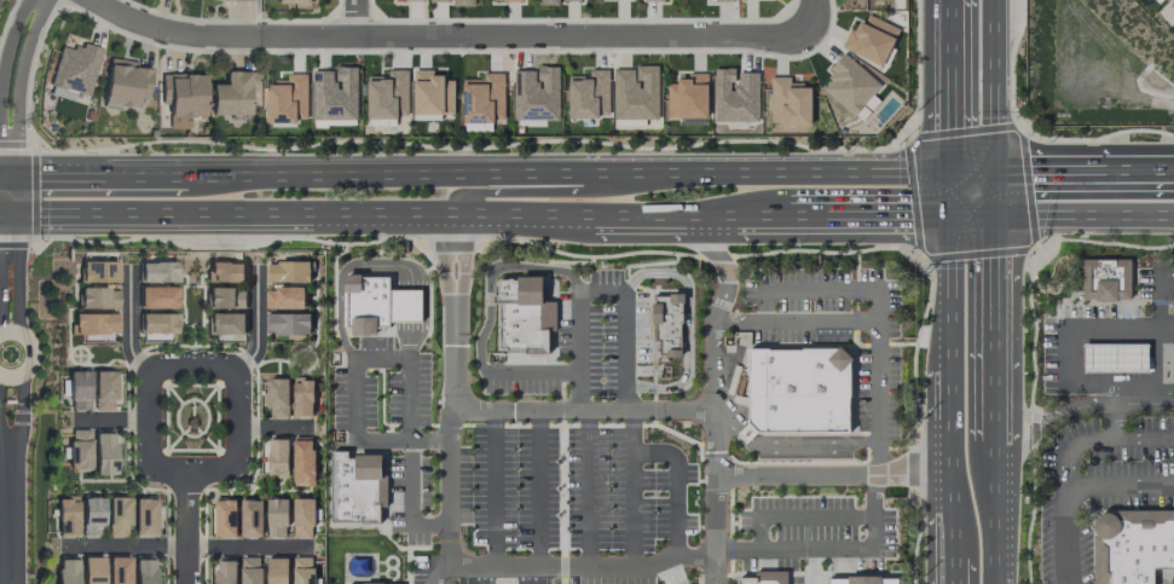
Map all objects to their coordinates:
building: (406, 0)
building: (513, 0)
building: (653, 0)
building: (724, 0)
building: (294, 1)
building: (452, 1)
building: (554, 1)
building: (1172, 2)
road: (358, 18)
building: (1173, 18)
road: (810, 19)
road: (446, 37)
building: (871, 39)
road: (8, 41)
road: (994, 48)
building: (73, 71)
building: (125, 82)
road: (948, 85)
building: (849, 89)
building: (335, 93)
building: (433, 93)
building: (537, 93)
building: (636, 93)
building: (181, 94)
building: (231, 94)
building: (388, 94)
building: (589, 94)
building: (736, 96)
building: (688, 97)
building: (484, 98)
building: (288, 99)
road: (16, 105)
building: (478, 127)
road: (994, 133)
road: (572, 169)
road: (1082, 169)
road: (972, 170)
road: (104, 177)
road: (7, 179)
traffic signals: (16, 179)
road: (524, 187)
road: (952, 195)
road: (993, 195)
road: (8, 214)
traffic signals: (17, 215)
road: (98, 215)
road: (318, 216)
road: (493, 218)
road: (1083, 218)
road: (629, 220)
road: (869, 220)
traffic signals: (952, 220)
road: (972, 220)
traffic signals: (994, 220)
road: (758, 221)
road: (445, 264)
road: (463, 264)
road: (724, 265)
building: (97, 271)
building: (289, 271)
building: (156, 272)
building: (224, 272)
road: (17, 274)
road: (490, 274)
building: (1106, 279)
road: (820, 288)
road: (600, 291)
road: (953, 295)
road: (1161, 296)
building: (97, 297)
building: (156, 297)
building: (225, 297)
building: (284, 297)
building: (378, 303)
building: (521, 316)
road: (131, 318)
road: (258, 322)
road: (872, 322)
building: (92, 323)
building: (156, 323)
building: (225, 323)
building: (288, 323)
building: (667, 325)
road: (688, 325)
road: (995, 333)
road: (1065, 336)
road: (1168, 351)
fountain: (12, 355)
road: (30, 355)
building: (1115, 358)
gas station: (1115, 358)
road: (713, 364)
road: (532, 375)
road: (352, 377)
road: (1145, 382)
road: (21, 388)
building: (77, 389)
building: (103, 389)
building: (799, 391)
building: (278, 397)
building: (302, 397)
road: (1145, 403)
road: (537, 412)
road: (1052, 415)
road: (108, 416)
road: (954, 420)
road: (19, 424)
road: (274, 426)
road: (4, 438)
road: (1146, 439)
road: (790, 447)
building: (77, 450)
building: (103, 452)
building: (274, 456)
building: (303, 461)
road: (673, 461)
road: (236, 466)
road: (832, 474)
road: (1064, 476)
building: (357, 487)
road: (588, 488)
road: (495, 490)
road: (539, 490)
road: (954, 490)
road: (712, 497)
road: (406, 502)
road: (631, 510)
road: (996, 514)
road: (7, 515)
building: (65, 516)
building: (91, 516)
building: (116, 516)
building: (143, 516)
building: (302, 516)
road: (803, 516)
building: (225, 517)
building: (251, 517)
building: (277, 517)
road: (187, 525)
road: (954, 533)
road: (1064, 534)
parking lot: (814, 536)
road: (184, 545)
building: (1132, 545)
road: (828, 548)
road: (502, 567)
building: (91, 569)
building: (117, 569)
building: (143, 569)
building: (226, 569)
building: (250, 569)
building: (277, 569)
building: (303, 569)
road: (436, 569)
road: (954, 569)
building: (65, 571)
building: (762, 578)
building: (866, 580)

